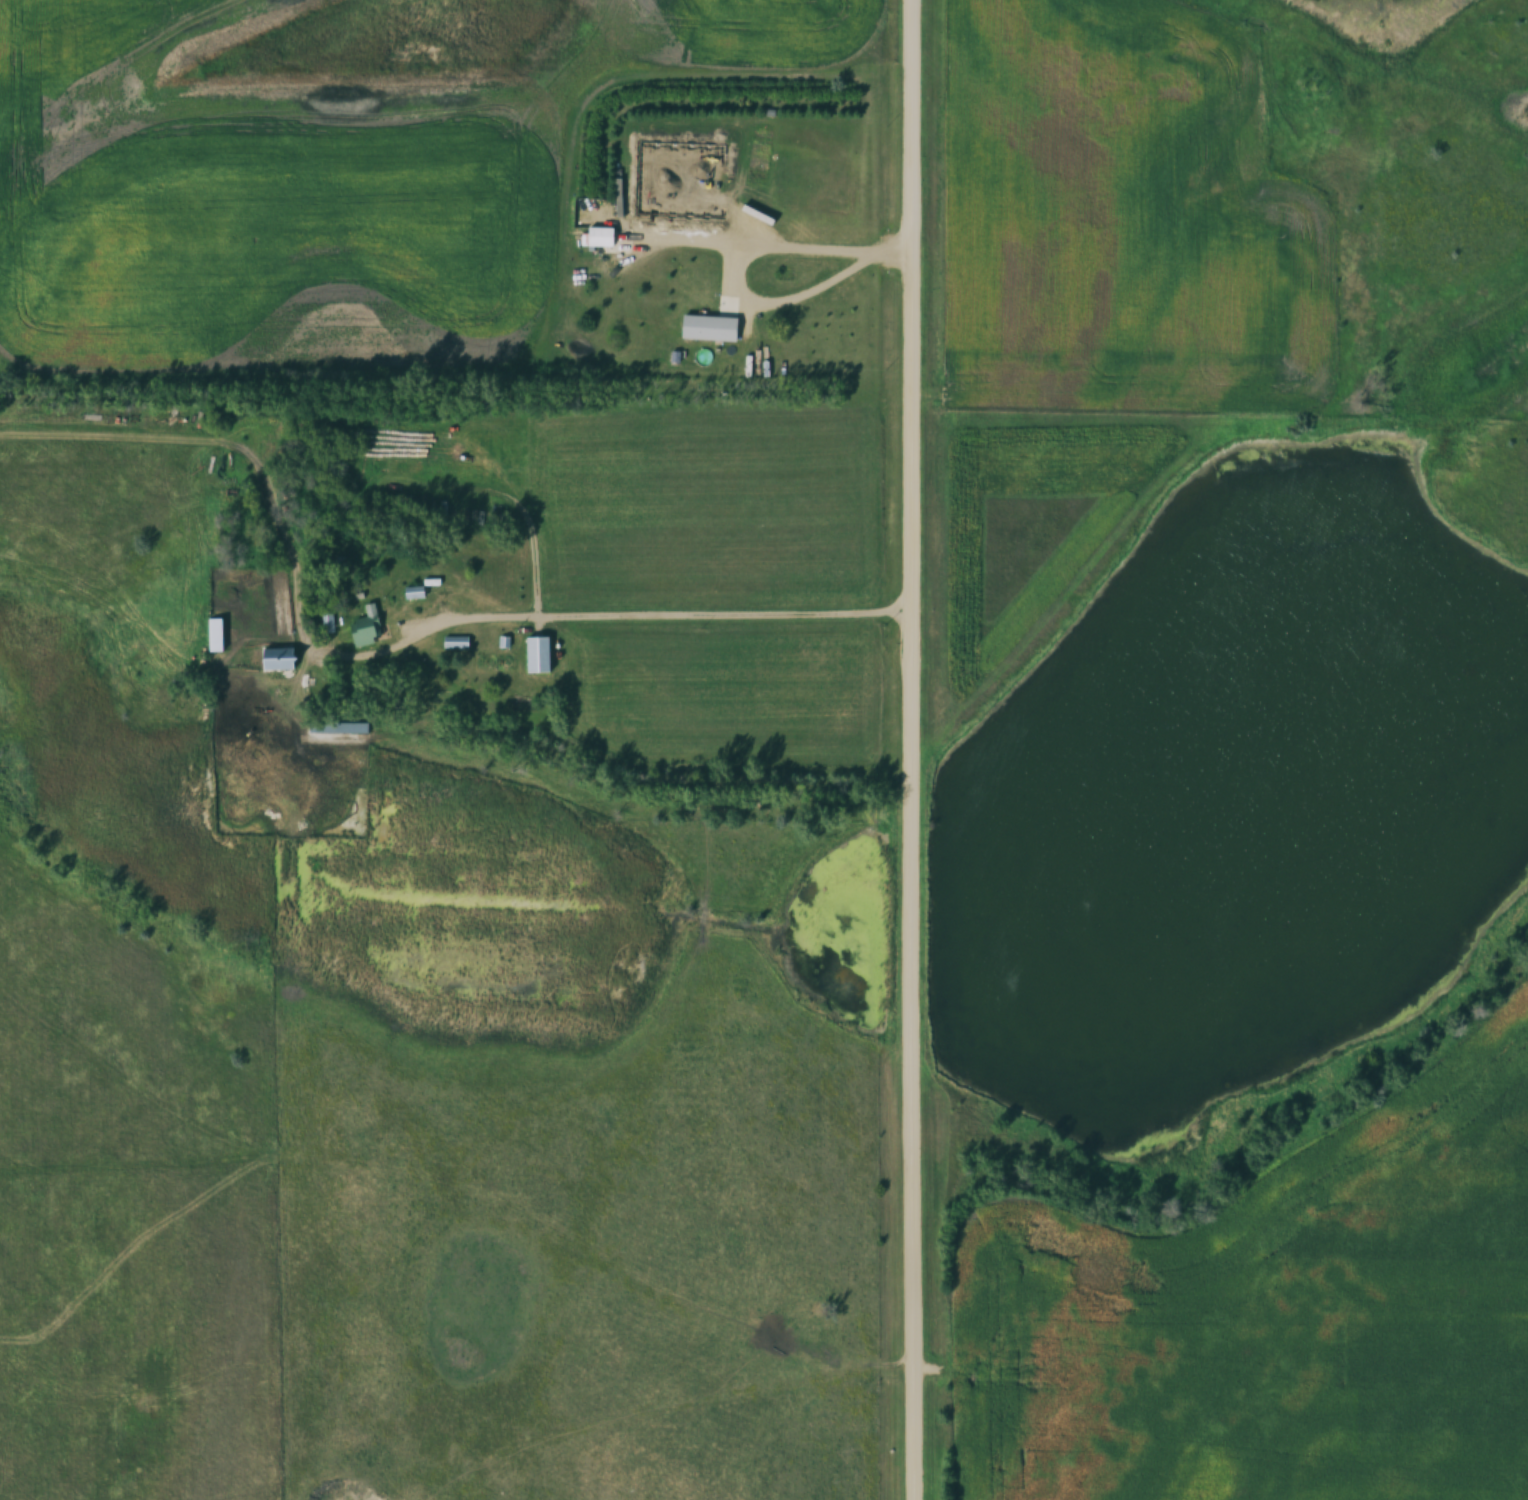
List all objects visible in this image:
building: (597, 236)
building: (707, 327)
road: (655, 618)
building: (365, 626)
building: (538, 654)
building: (278, 658)
building: (334, 727)
road: (913, 750)

